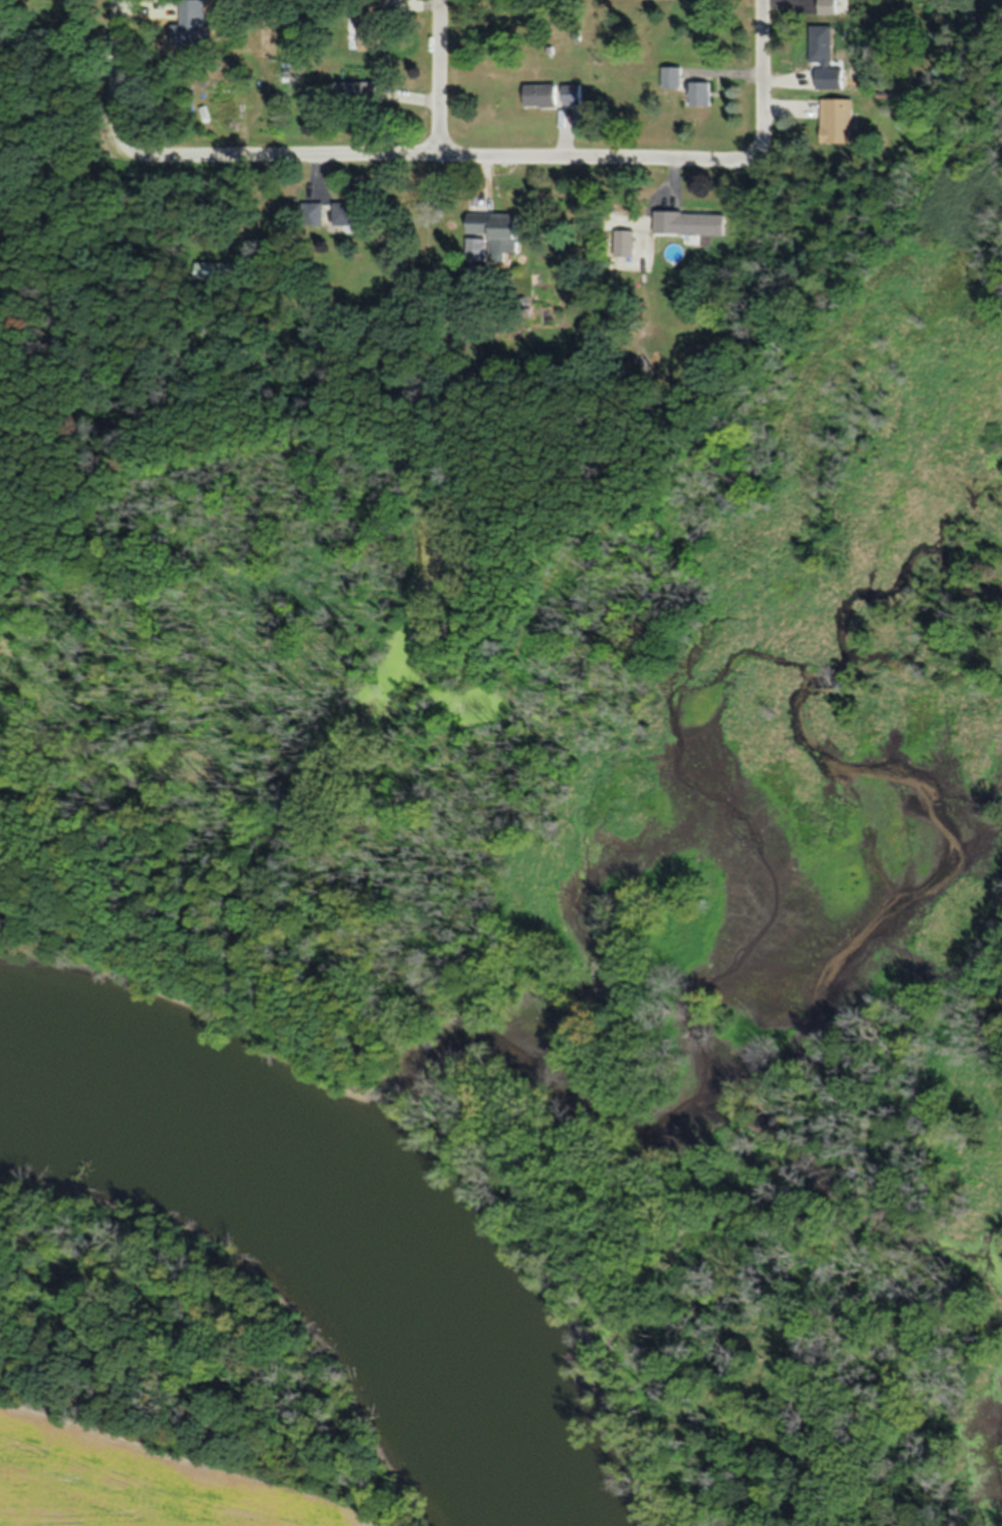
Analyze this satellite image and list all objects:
building: (828, 7)
building: (371, 29)
building: (822, 44)
road: (117, 69)
building: (673, 78)
building: (826, 79)
road: (438, 80)
road: (763, 83)
building: (358, 93)
building: (573, 94)
building: (701, 94)
building: (543, 95)
building: (838, 122)
road: (431, 161)
building: (350, 214)
building: (314, 215)
building: (690, 223)
building: (498, 231)
building: (478, 250)
building: (215, 274)
park: (179, 636)
river: (331, 1225)

